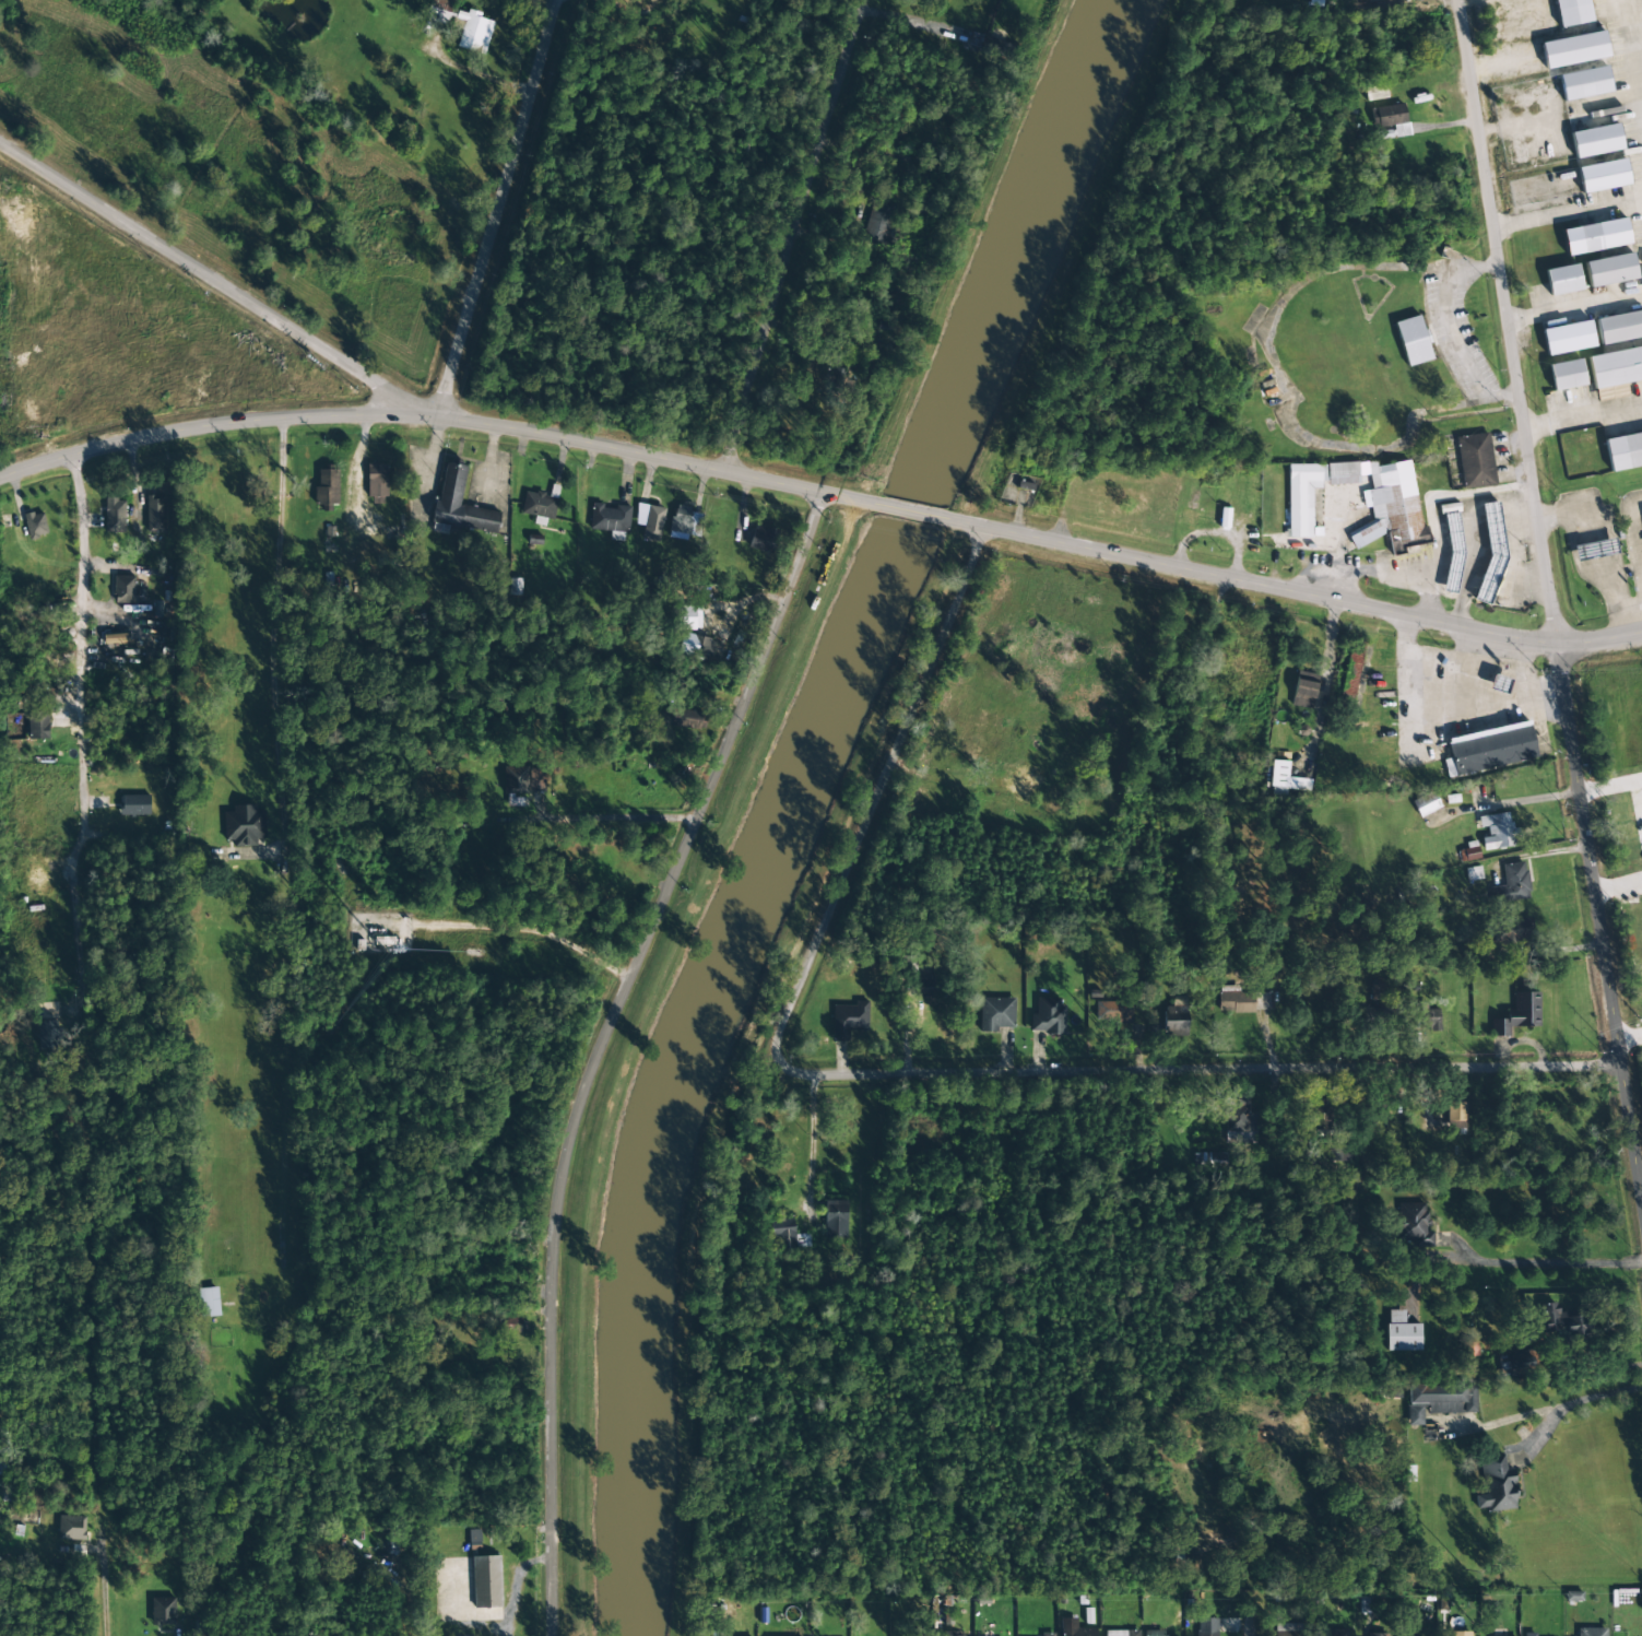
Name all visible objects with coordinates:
building: (1390, 0)
building: (440, 10)
building: (1571, 12)
building: (472, 31)
road: (1638, 35)
building: (1574, 49)
building: (1584, 83)
building: (1375, 93)
building: (1392, 118)
building: (1596, 140)
building: (1603, 176)
road: (494, 210)
road: (1568, 212)
building: (879, 220)
road: (793, 235)
building: (1595, 236)
building: (1610, 270)
building: (1562, 280)
road: (215, 281)
road: (1574, 305)
road: (1508, 321)
building: (1619, 327)
building: (1568, 338)
building: (1413, 341)
building: (1616, 367)
building: (1567, 375)
building: (841, 376)
road: (1583, 419)
road: (439, 420)
building: (1631, 446)
building: (1475, 461)
building: (1343, 473)
building: (377, 483)
building: (327, 489)
building: (1301, 497)
building: (459, 505)
building: (539, 507)
building: (1392, 509)
building: (155, 514)
road: (909, 514)
building: (115, 516)
building: (609, 518)
building: (684, 522)
building: (652, 523)
building: (35, 525)
building: (764, 539)
building: (1453, 542)
building: (1609, 543)
gas station: (1609, 543)
building: (1593, 550)
building: (1491, 553)
building: (123, 589)
road: (1290, 592)
building: (689, 617)
building: (116, 638)
building: (695, 646)
building: (1351, 671)
building: (1304, 691)
building: (693, 717)
building: (38, 726)
building: (1489, 750)
building: (1285, 779)
building: (516, 780)
building: (1023, 781)
road: (1610, 785)
road: (1639, 792)
road: (121, 804)
building: (134, 804)
building: (1426, 804)
building: (244, 825)
road: (481, 826)
building: (1497, 831)
building: (1467, 855)
building: (1511, 884)
road: (1618, 886)
road: (1598, 918)
road: (503, 927)
building: (1512, 929)
building: (925, 987)
building: (1377, 991)
building: (1242, 1001)
building: (1112, 1012)
building: (995, 1014)
building: (1519, 1014)
building: (1048, 1015)
building: (1429, 1016)
building: (1374, 1017)
building: (849, 1020)
road: (1630, 1038)
road: (603, 1048)
road: (912, 1072)
building: (1319, 1115)
building: (1456, 1115)
building: (1240, 1121)
building: (1340, 1152)
building: (836, 1219)
building: (1411, 1221)
building: (783, 1234)
building: (209, 1302)
building: (511, 1323)
building: (1563, 1323)
building: (1402, 1333)
building: (1514, 1363)
building: (1391, 1392)
building: (1438, 1401)
building: (1496, 1485)
building: (71, 1528)
building: (473, 1537)
building: (486, 1581)
building: (163, 1612)
road: (1250, 1621)
building: (1206, 1627)
building: (1074, 1628)
building: (1287, 1629)
building: (1591, 1632)
building: (1121, 1633)
building: (1154, 1633)
building: (1337, 1633)
building: (1047, 1634)
building: (1456, 1634)
building: (1529, 1634)
building: (1377, 1635)

